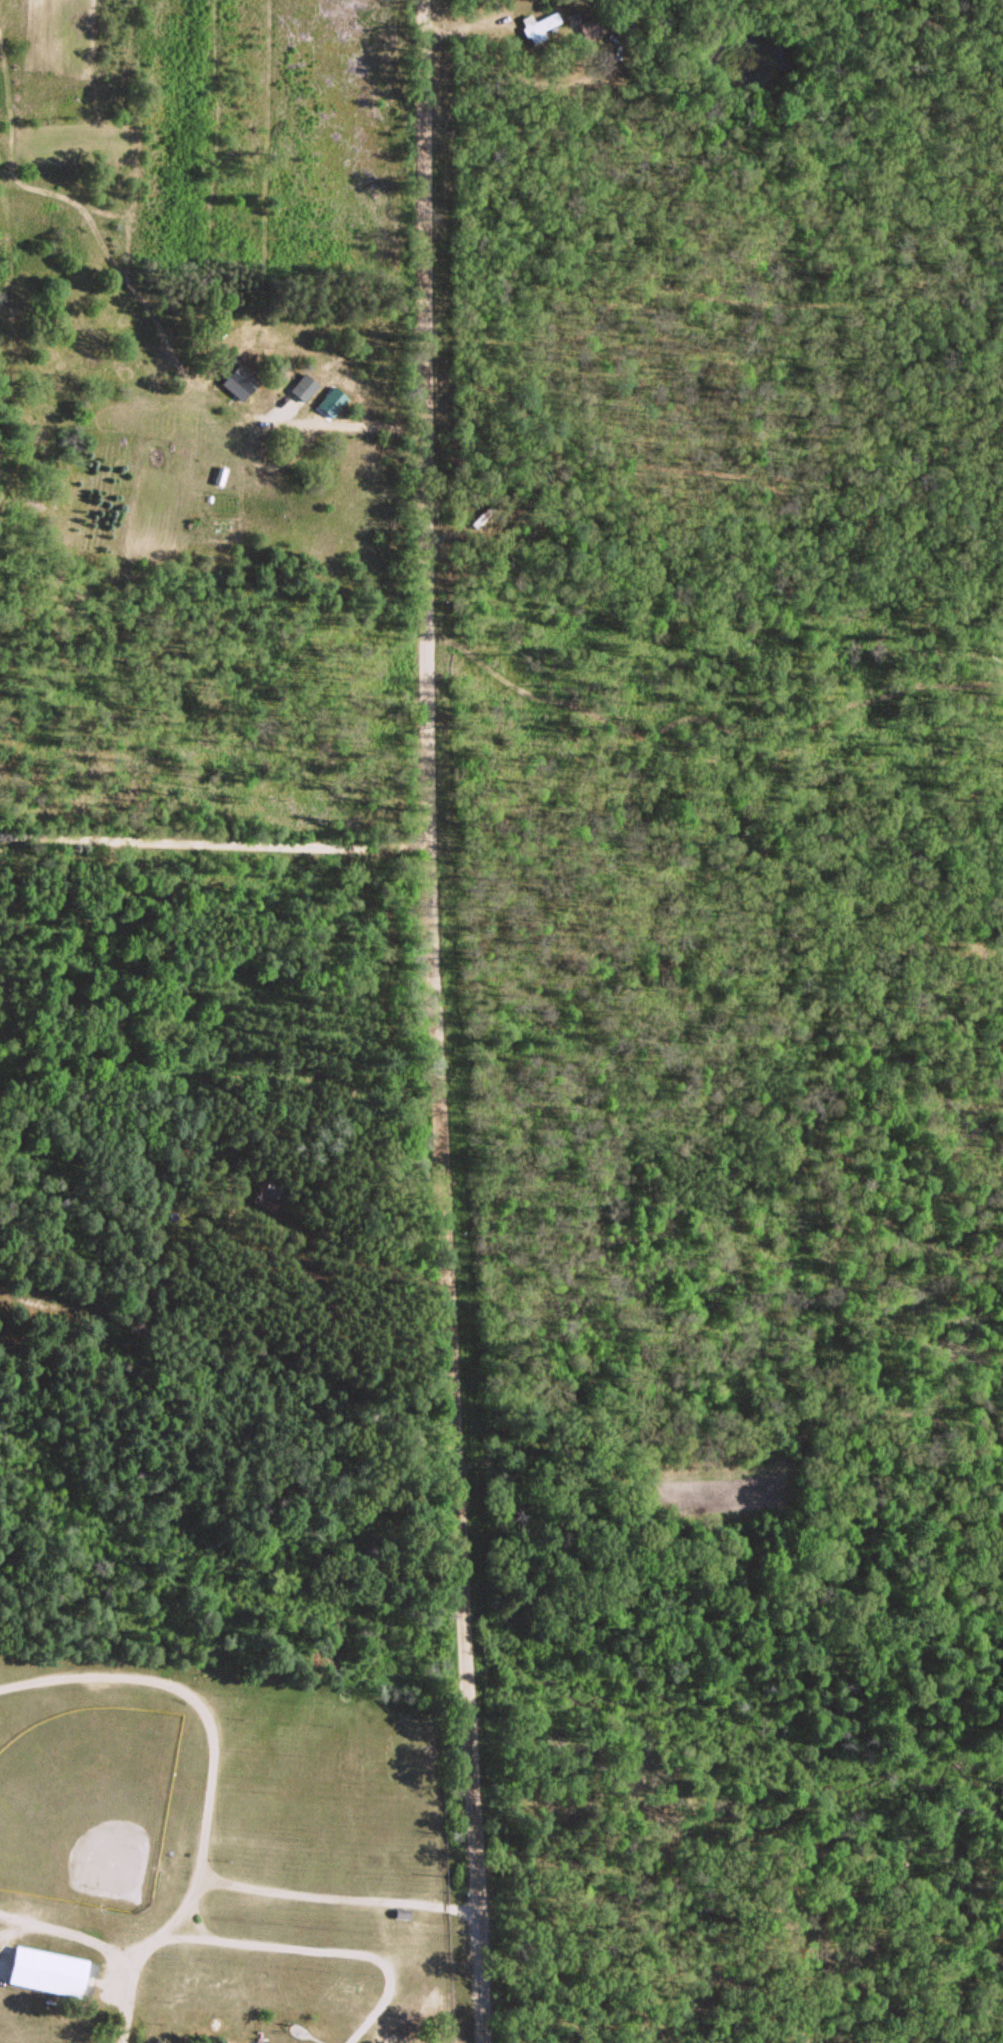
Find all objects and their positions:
building: (538, 25)
building: (238, 380)
building: (303, 386)
building: (480, 517)
road: (213, 840)
road: (435, 1021)
road: (188, 1691)
park: (87, 1802)
park: (215, 1859)
road: (298, 1892)
building: (401, 1916)
road: (196, 1919)
road: (68, 1931)
road: (261, 1940)
road: (429, 1959)
building: (45, 1969)

